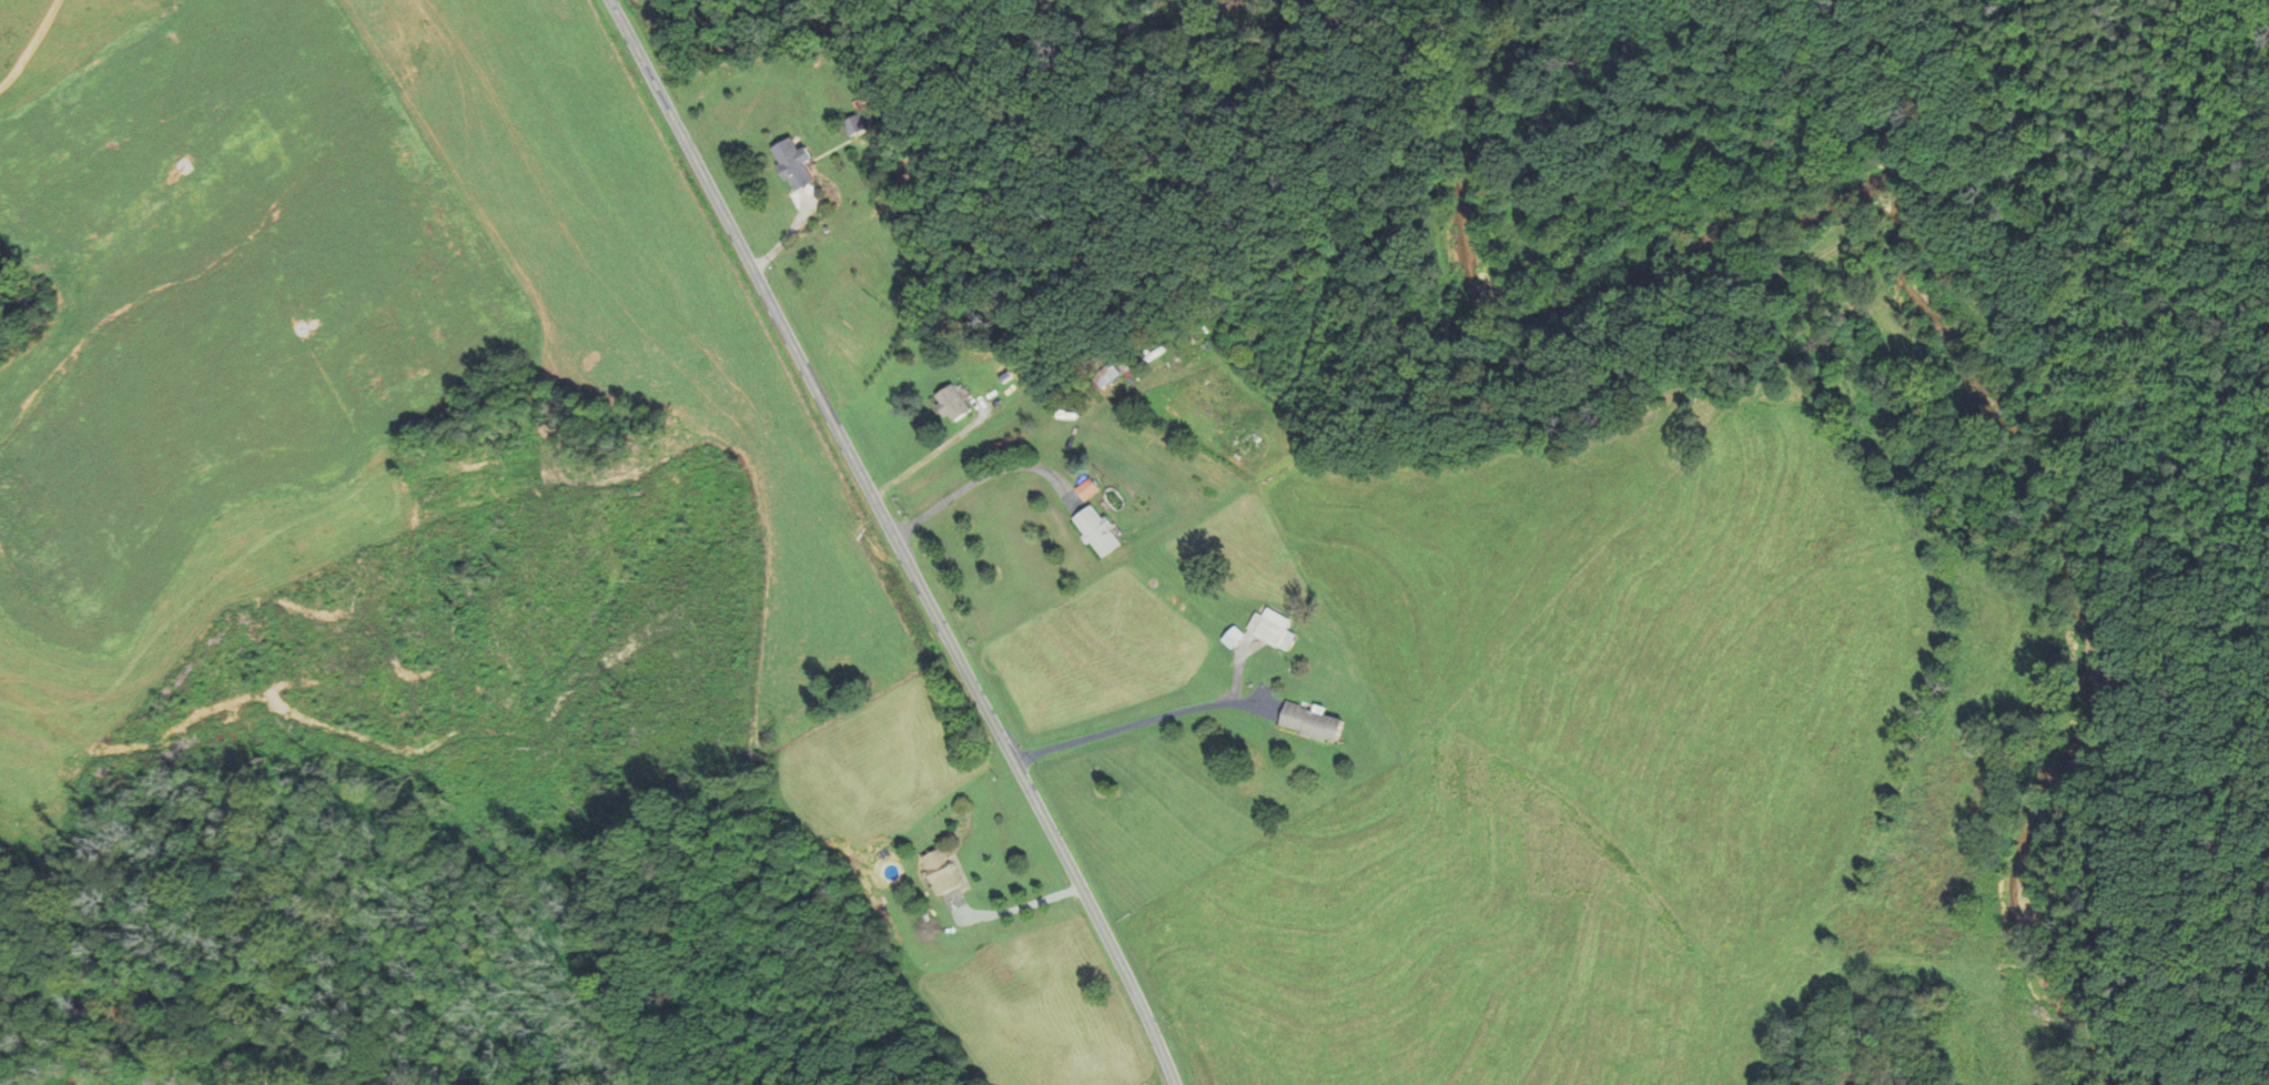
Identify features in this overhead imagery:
building: (857, 119)
building: (794, 164)
building: (945, 403)
road: (936, 452)
road: (984, 476)
building: (1098, 531)
road: (895, 540)
building: (1276, 631)
building: (1317, 722)
road: (1121, 727)
building: (945, 871)

